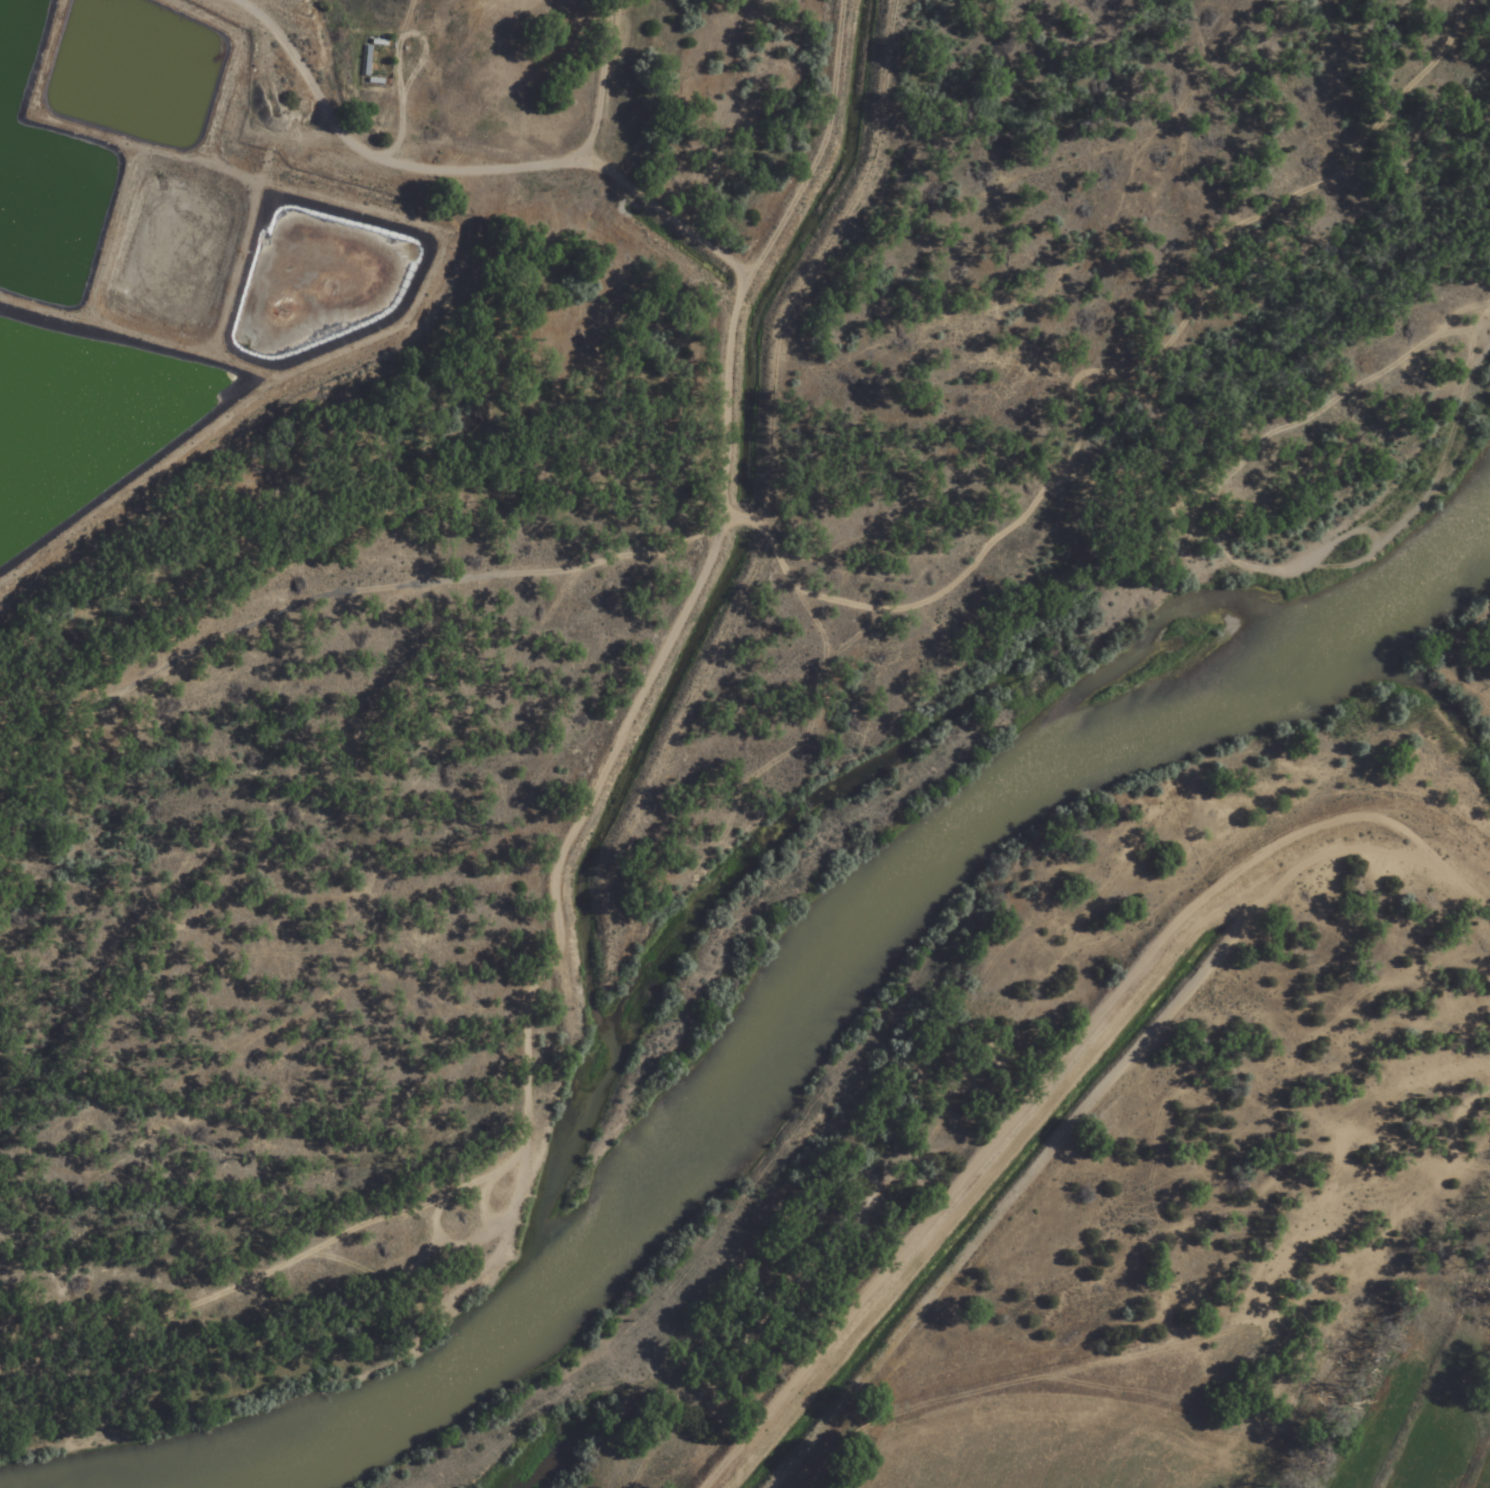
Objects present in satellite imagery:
road: (278, 34)
river: (1432, 685)
river: (841, 984)

